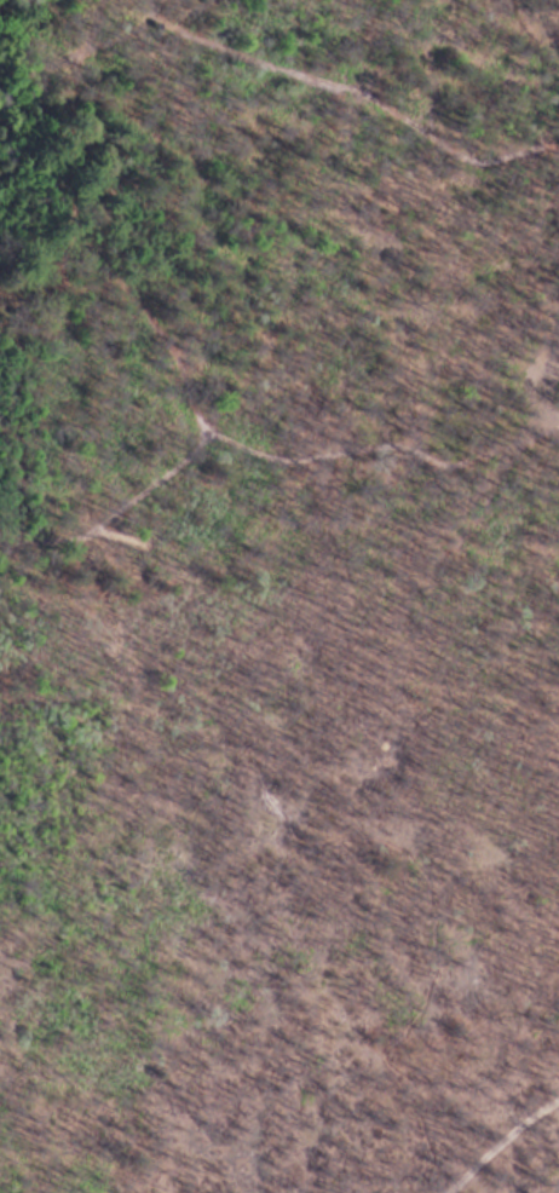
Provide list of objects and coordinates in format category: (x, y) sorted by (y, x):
road: (111, 438)
road: (502, 1130)
road: (1, 1175)

